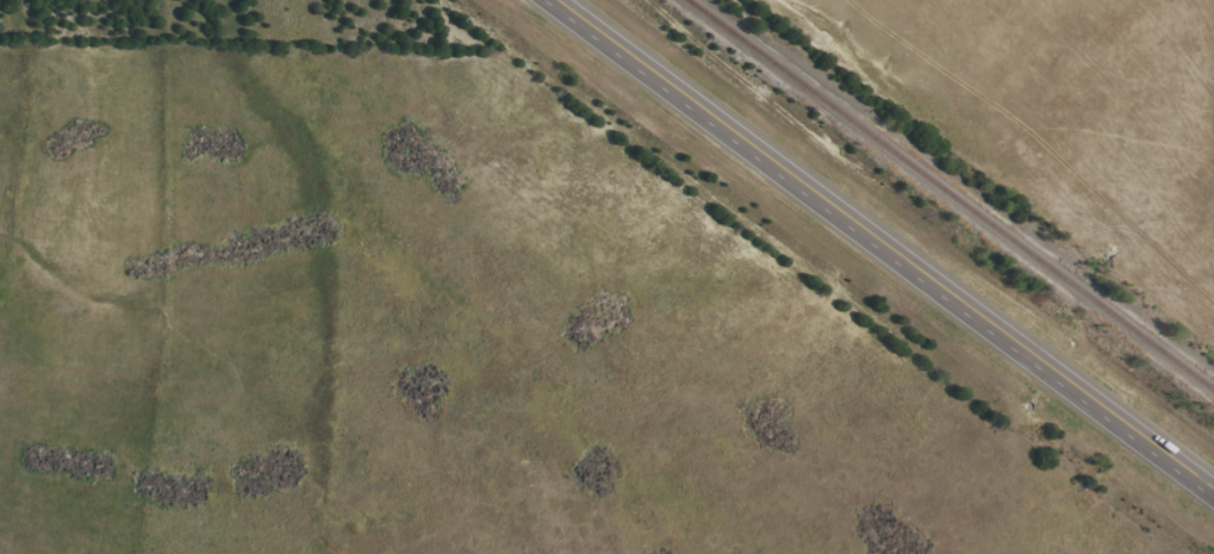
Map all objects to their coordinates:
railway: (952, 195)
road: (880, 245)

